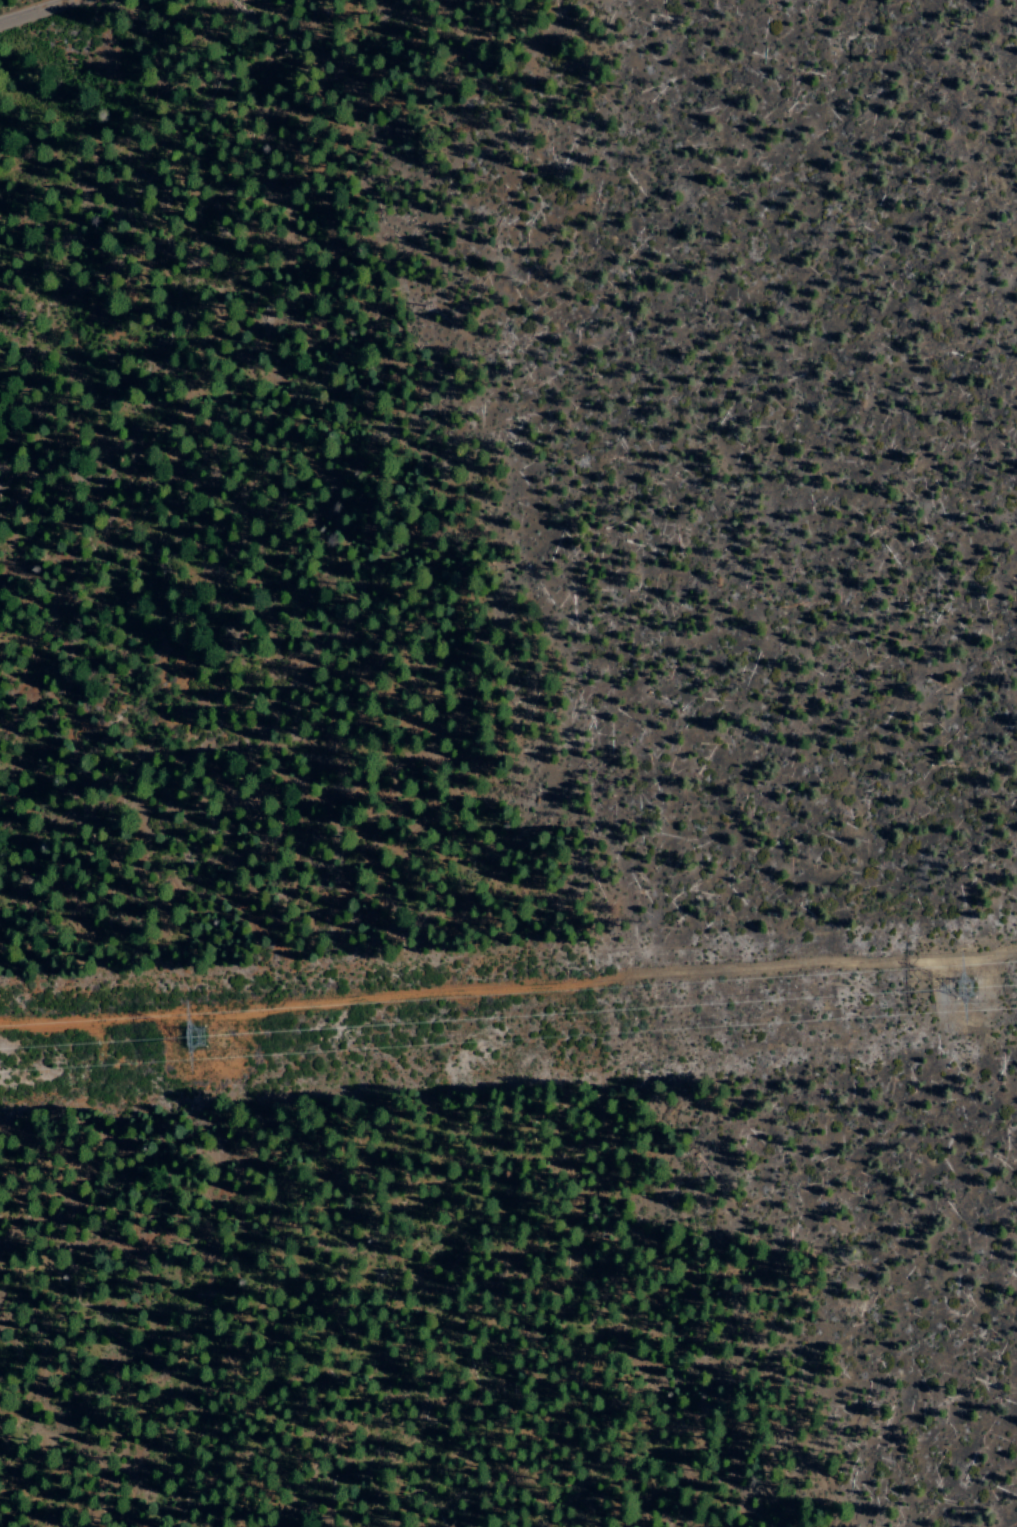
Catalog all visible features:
road: (54, 15)
power tower: (970, 982)
power tower: (206, 1044)

